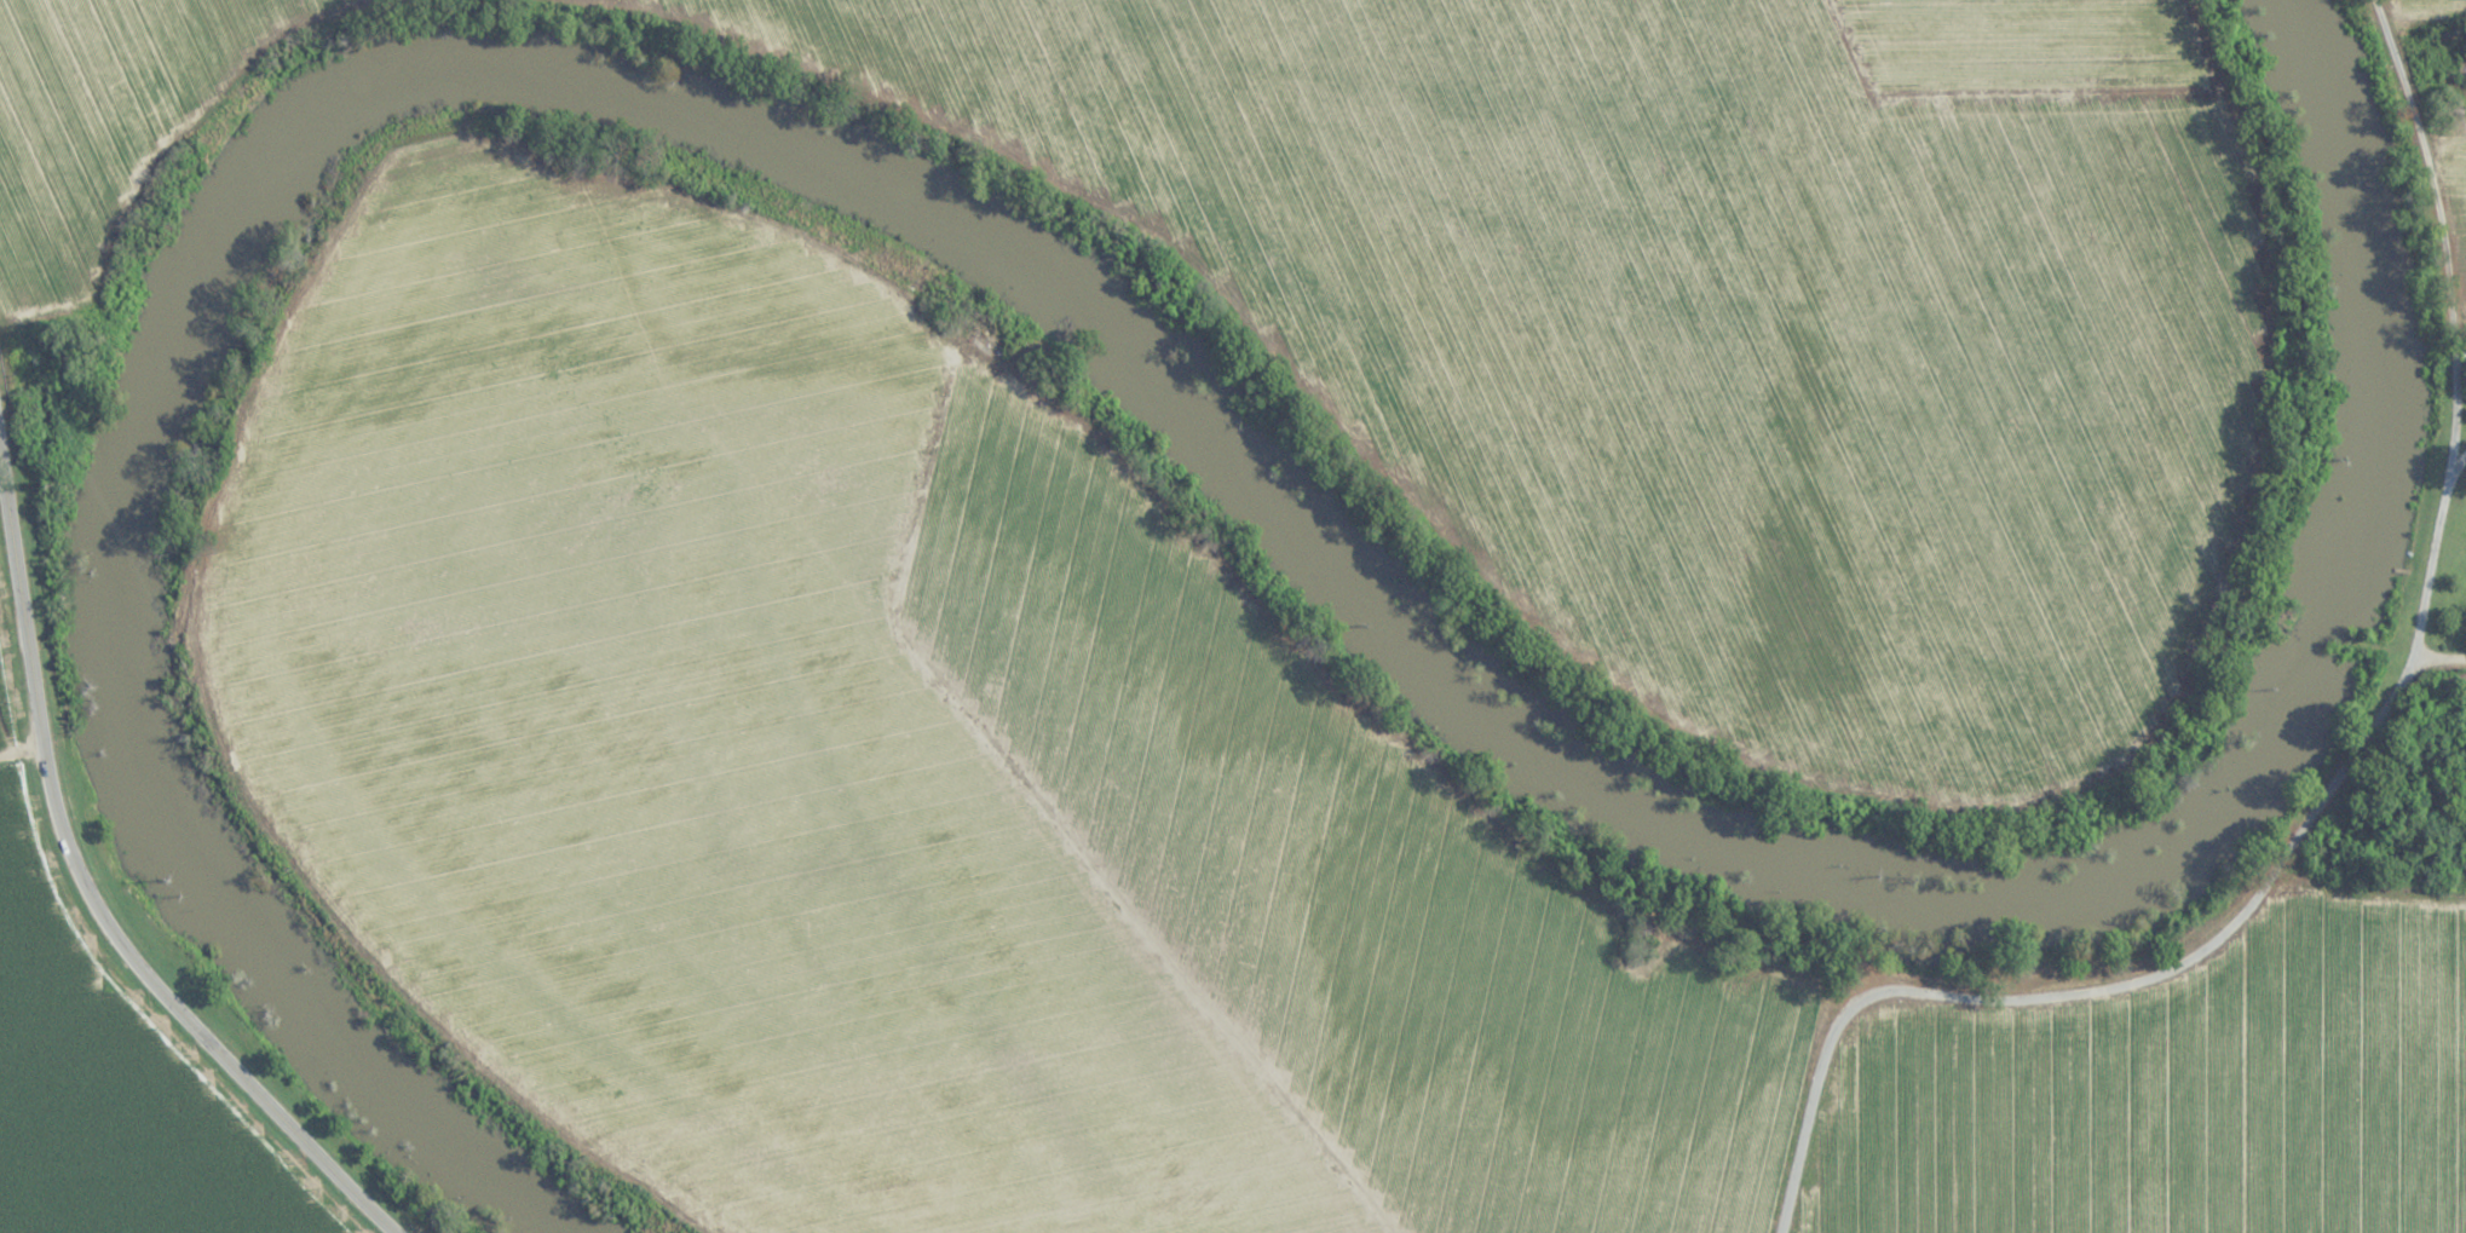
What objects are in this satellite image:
road: (189, 129)
road: (2448, 322)
river: (1105, 323)
road: (2439, 657)
building: (2454, 680)
road: (1654, 711)
road: (19, 738)
road: (93, 899)
road: (2093, 992)

